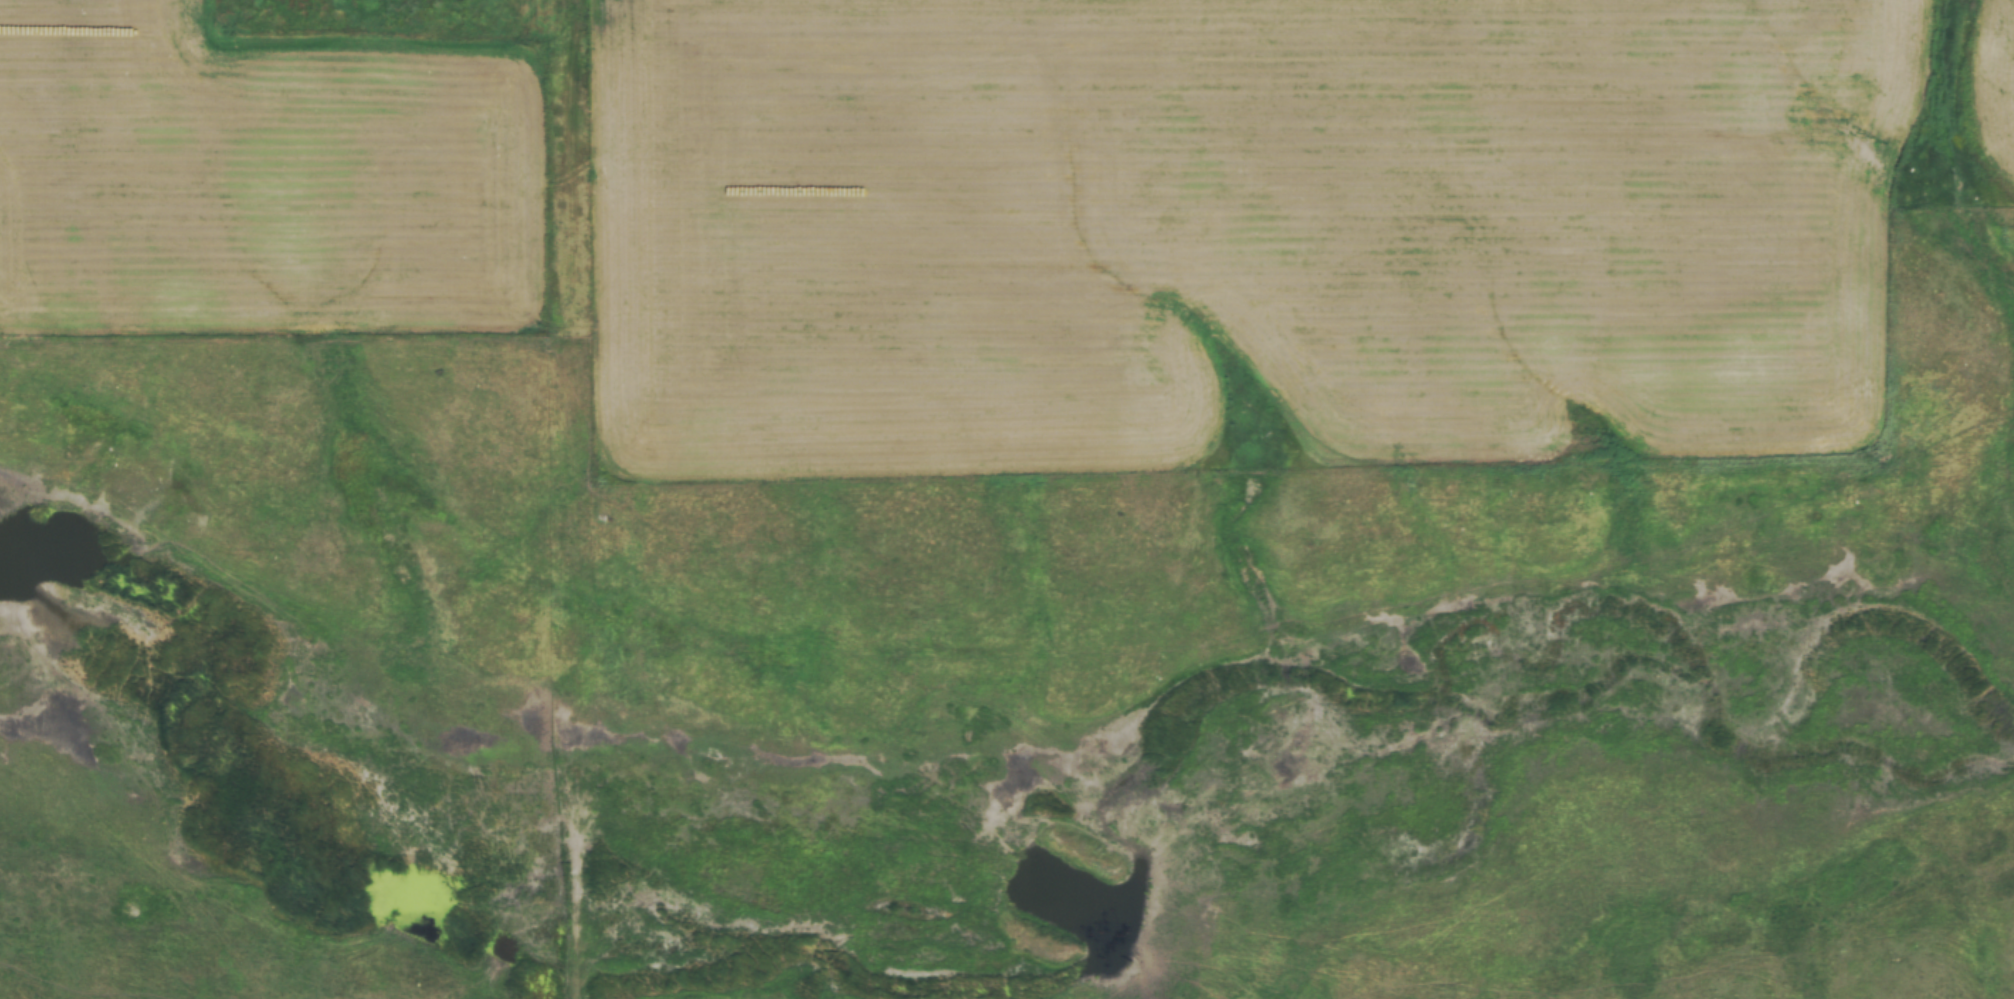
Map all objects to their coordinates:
road: (589, 499)

